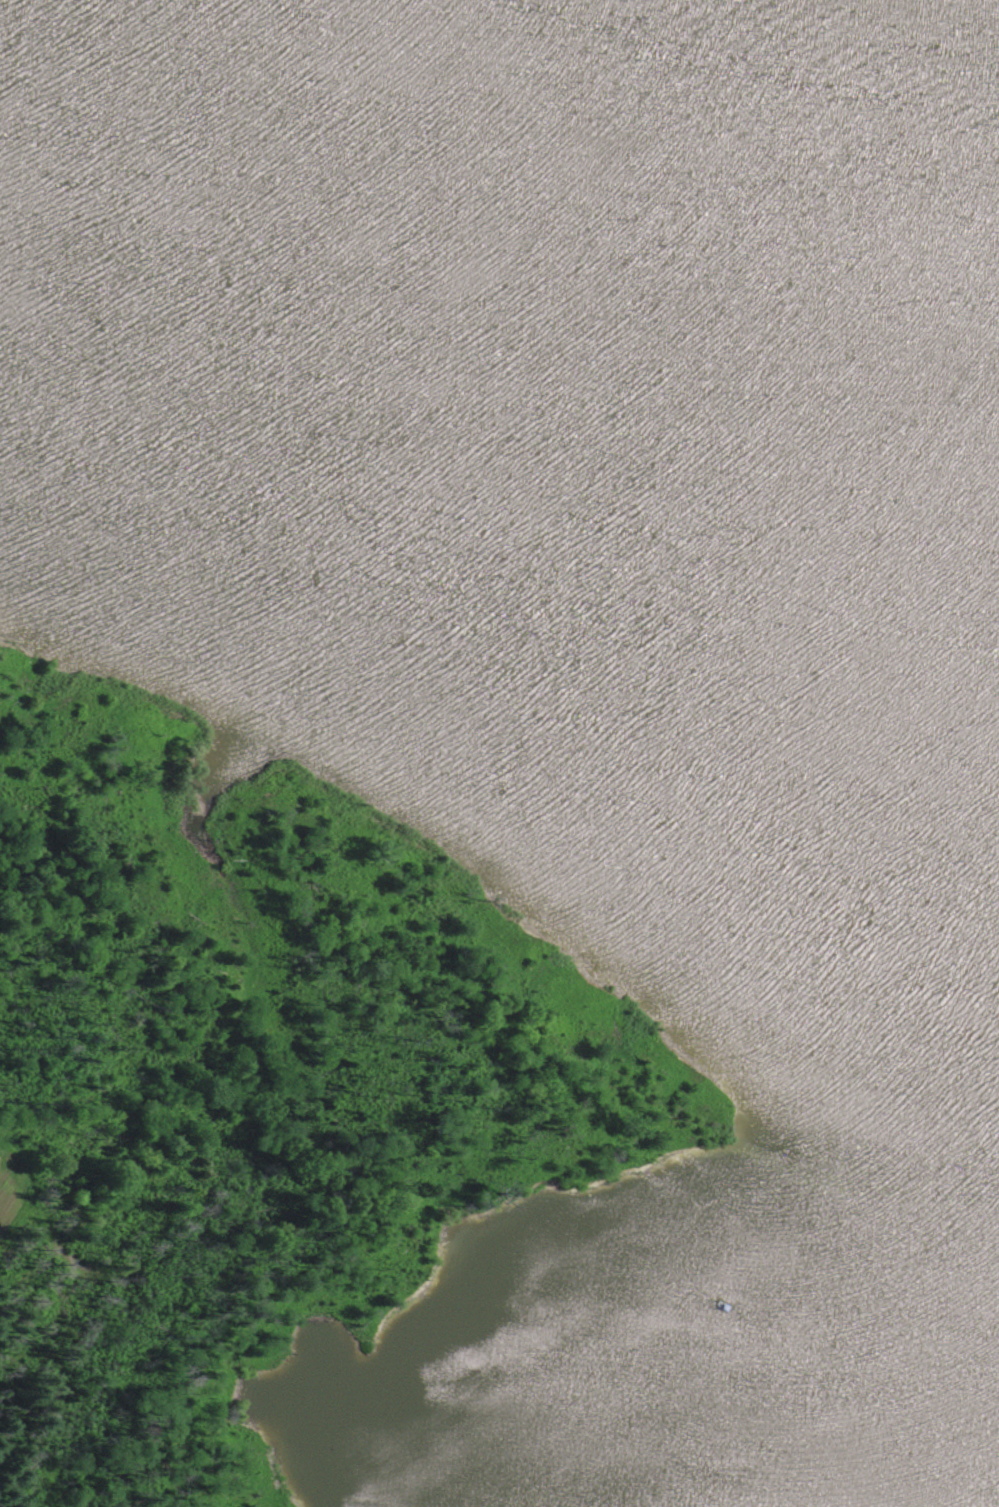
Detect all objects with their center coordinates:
river: (486, 275)

